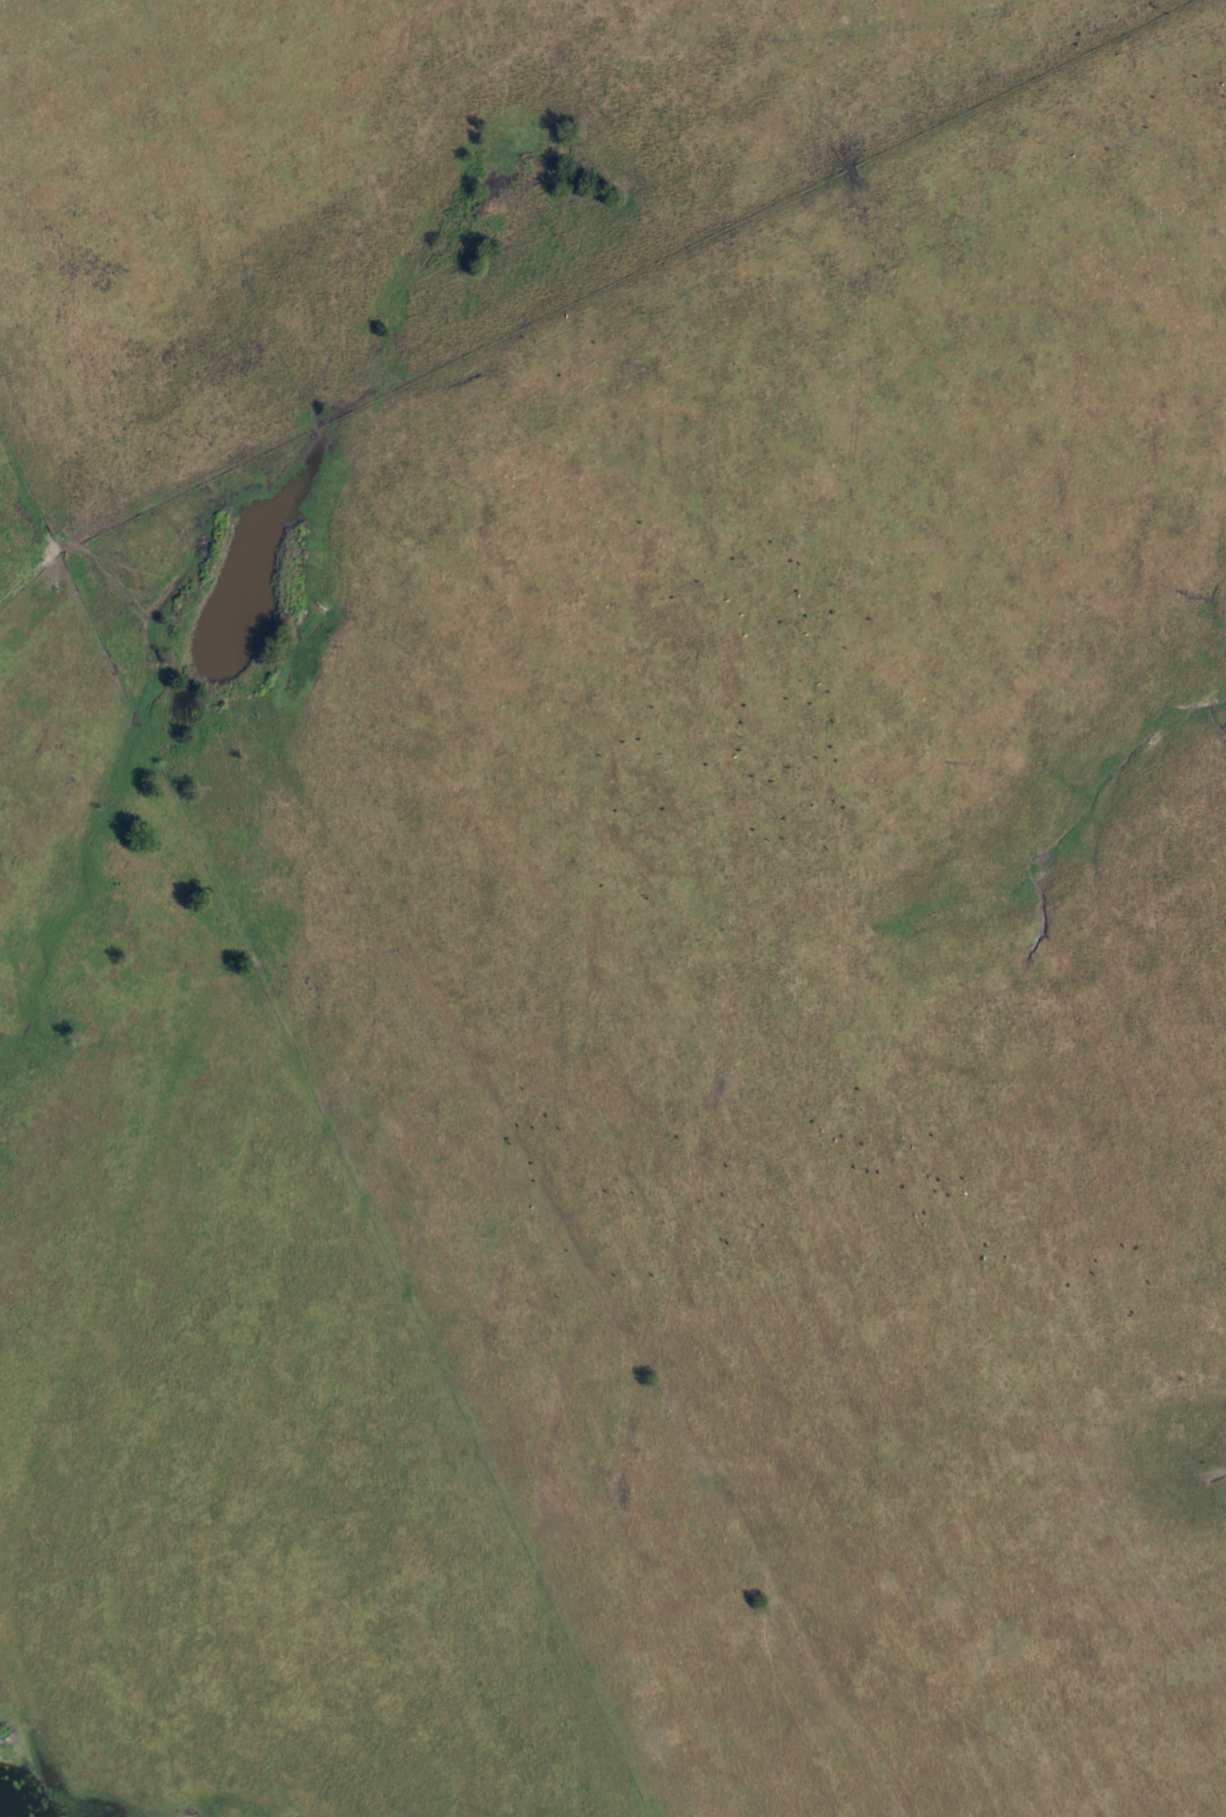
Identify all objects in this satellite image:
road: (781, 1654)

